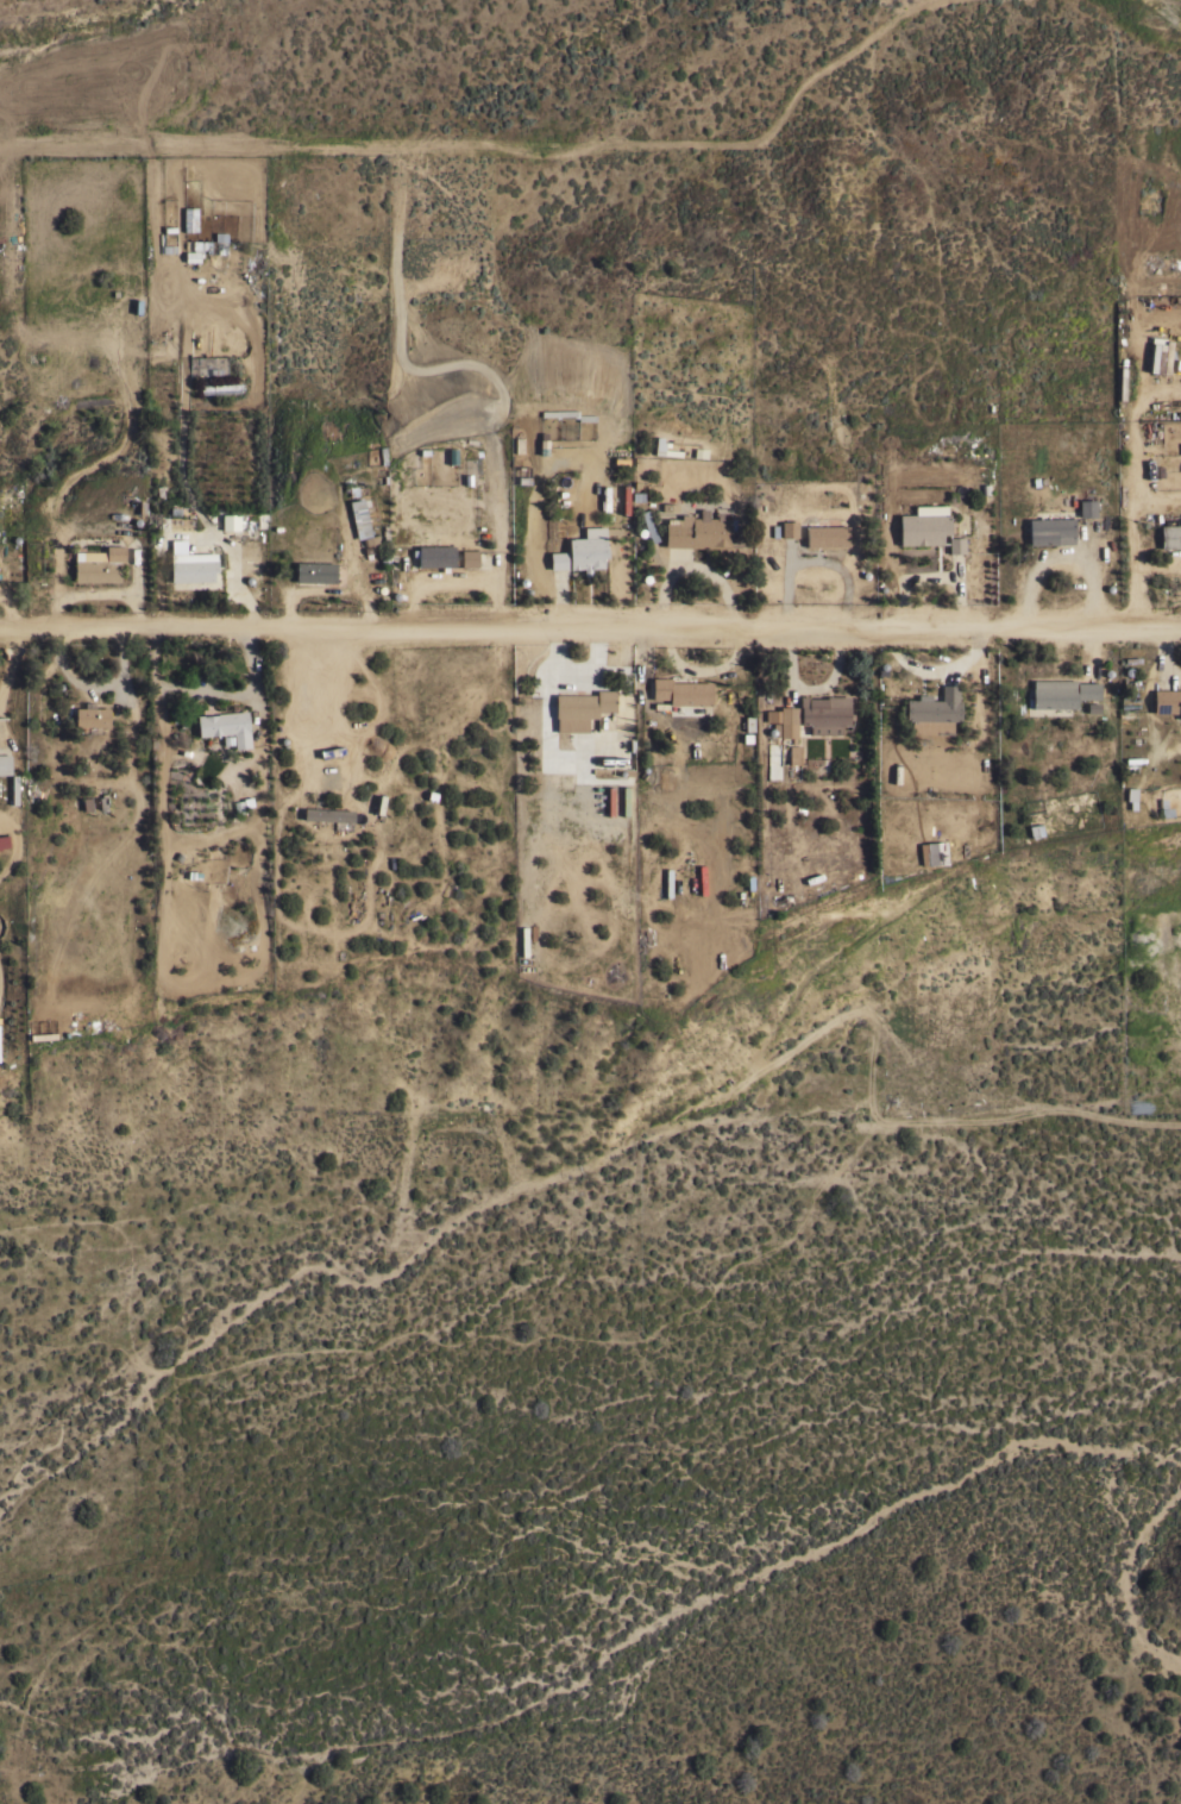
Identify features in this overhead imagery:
building: (190, 219)
building: (1158, 355)
building: (220, 388)
building: (661, 446)
building: (366, 507)
building: (1087, 507)
building: (230, 521)
building: (362, 522)
building: (923, 524)
building: (647, 526)
building: (789, 528)
building: (698, 530)
building: (1050, 530)
building: (827, 534)
building: (1170, 535)
building: (955, 544)
building: (588, 549)
building: (433, 555)
building: (469, 557)
building: (558, 559)
building: (99, 564)
building: (193, 565)
building: (315, 570)
road: (346, 587)
road: (369, 609)
road: (590, 634)
road: (208, 685)
building: (681, 691)
building: (1061, 691)
building: (1167, 701)
building: (935, 706)
building: (580, 708)
building: (824, 714)
building: (90, 716)
building: (783, 721)
building: (226, 725)
building: (792, 754)
building: (5, 763)
building: (239, 804)
building: (331, 816)
building: (4, 838)
building: (930, 852)
building: (523, 940)

